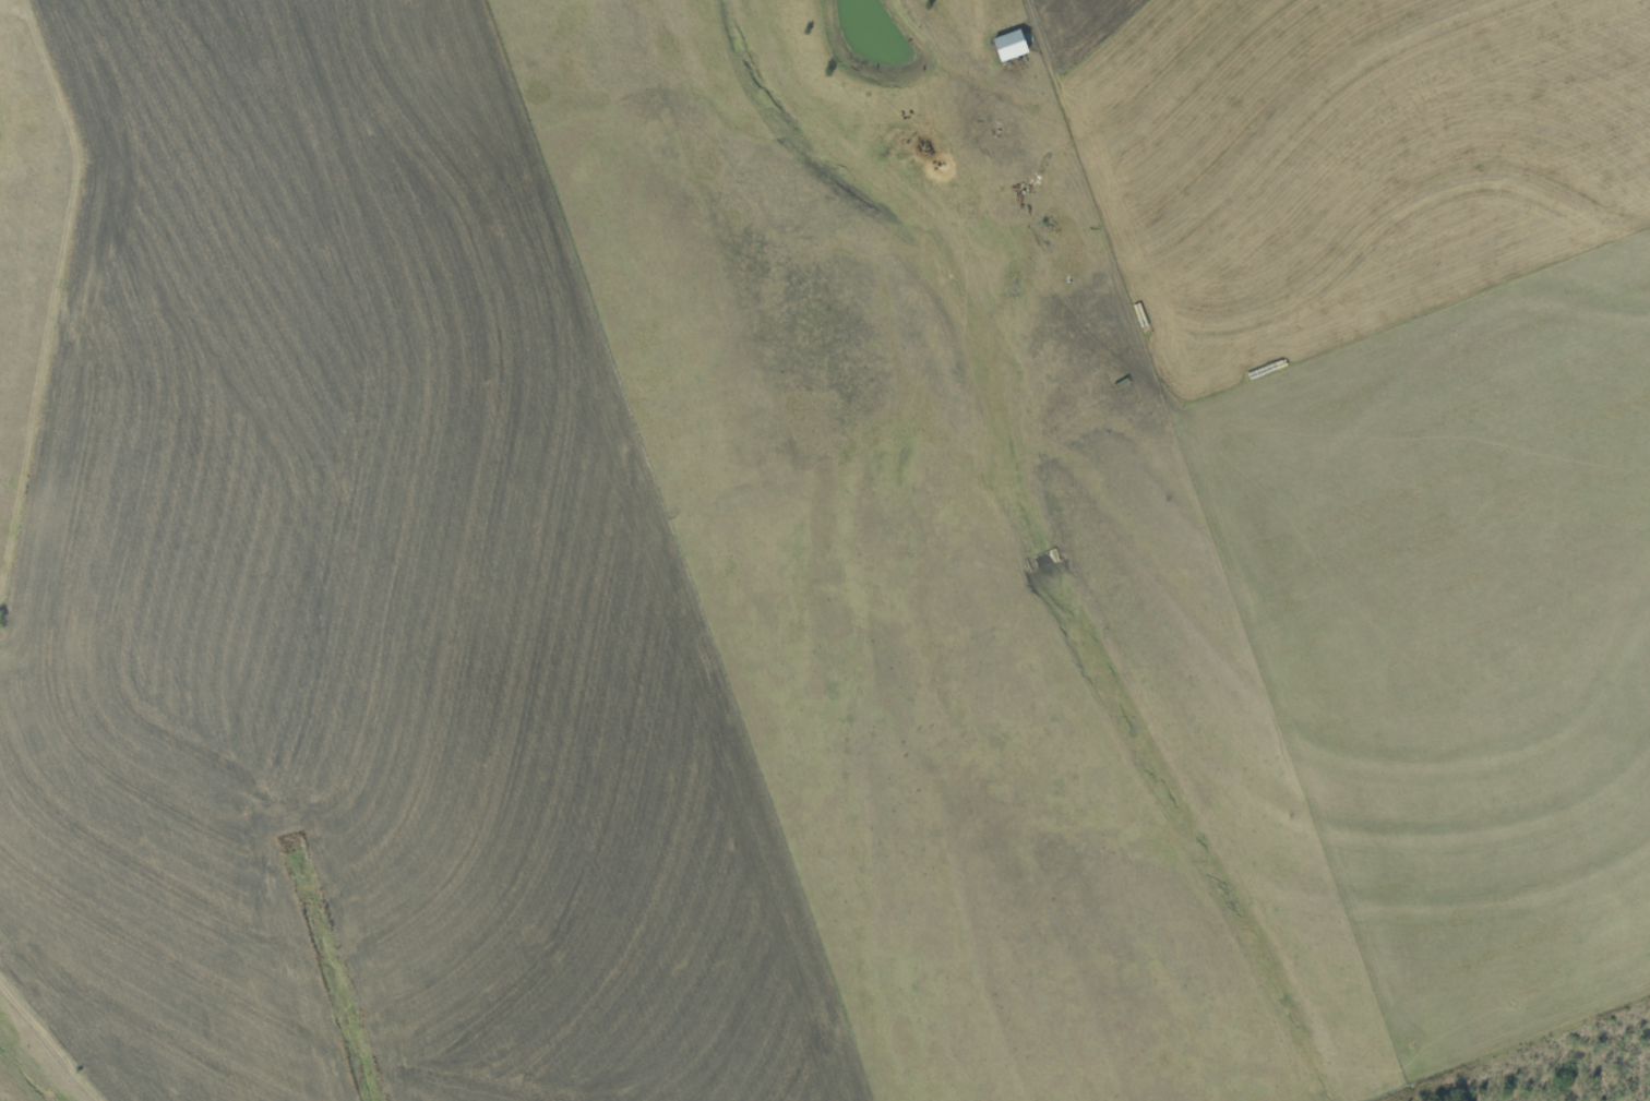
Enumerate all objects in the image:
building: (1011, 45)

